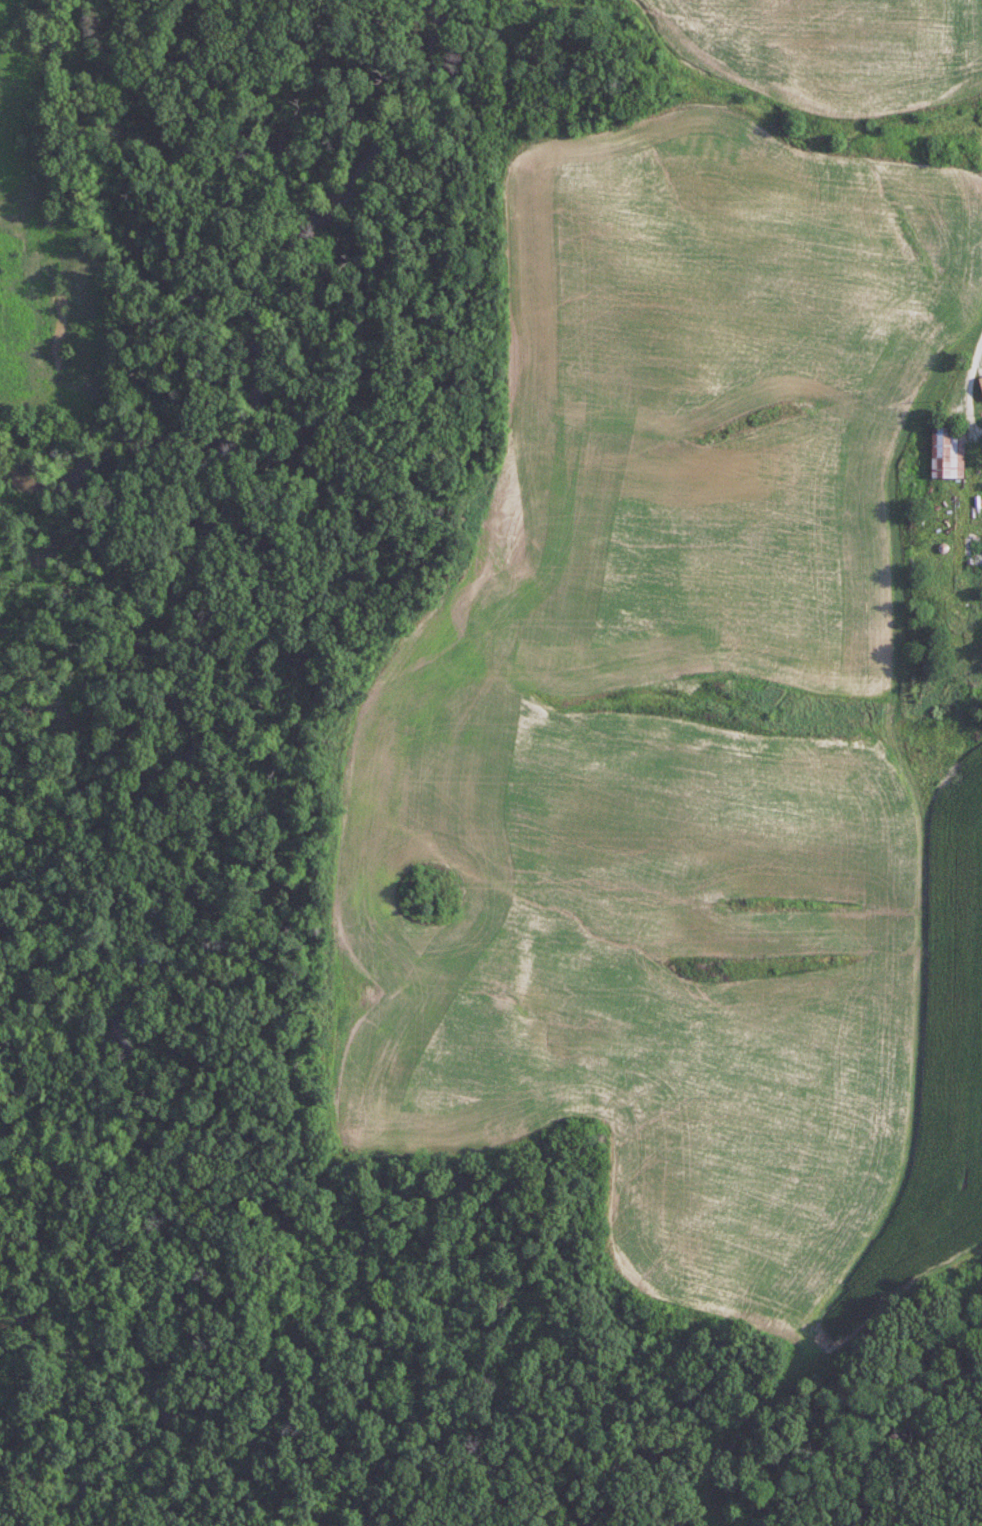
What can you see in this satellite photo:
road: (970, 381)
building: (980, 381)
building: (948, 453)
building: (973, 551)

